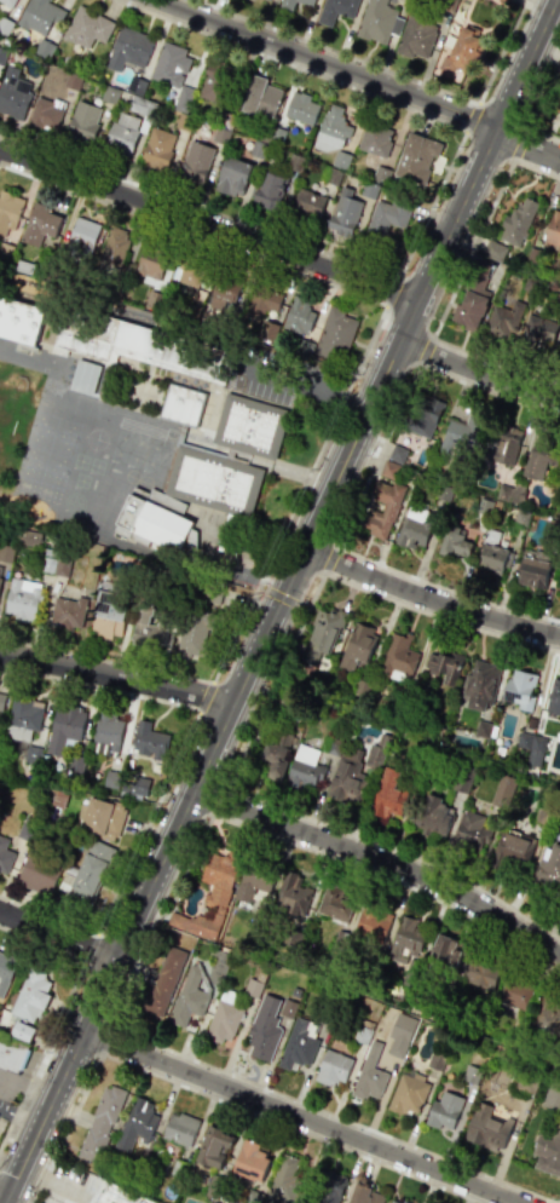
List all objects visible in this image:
building: (270, 0)
building: (506, 0)
building: (7, 2)
building: (285, 4)
building: (336, 10)
building: (40, 16)
building: (375, 21)
building: (86, 28)
building: (416, 36)
building: (128, 48)
building: (463, 51)
road: (500, 52)
road: (327, 62)
road: (290, 64)
building: (173, 73)
building: (220, 81)
building: (261, 92)
road: (542, 92)
building: (13, 93)
building: (555, 98)
building: (302, 107)
building: (46, 113)
road: (469, 116)
building: (85, 121)
building: (333, 128)
building: (123, 132)
building: (376, 138)
road: (542, 138)
road: (518, 145)
road: (525, 148)
building: (158, 149)
road: (485, 149)
building: (417, 157)
building: (197, 159)
road: (535, 171)
building: (381, 175)
building: (232, 177)
building: (270, 189)
building: (308, 202)
road: (432, 203)
road: (200, 207)
building: (10, 209)
building: (343, 213)
building: (386, 217)
building: (516, 220)
building: (41, 223)
road: (207, 225)
building: (553, 230)
building: (83, 232)
road: (191, 234)
building: (115, 243)
road: (470, 249)
building: (493, 249)
building: (150, 266)
building: (190, 274)
road: (391, 292)
building: (227, 294)
building: (473, 294)
building: (266, 303)
building: (300, 313)
building: (506, 318)
building: (19, 322)
building: (269, 329)
building: (538, 329)
building: (330, 332)
building: (134, 343)
road: (427, 345)
building: (559, 352)
road: (421, 357)
road: (493, 363)
road: (478, 373)
parking lot: (278, 374)
building: (83, 375)
road: (302, 382)
road: (487, 391)
building: (180, 404)
building: (421, 416)
park: (8, 419)
park: (15, 419)
building: (249, 425)
park: (51, 433)
building: (180, 433)
building: (460, 434)
road: (321, 445)
building: (502, 448)
building: (397, 453)
building: (541, 454)
road: (376, 455)
park: (42, 466)
building: (388, 470)
building: (212, 482)
building: (443, 491)
building: (502, 493)
building: (516, 493)
building: (388, 507)
building: (483, 507)
building: (156, 523)
building: (412, 528)
building: (28, 537)
building: (454, 542)
building: (492, 551)
road: (331, 552)
building: (6, 553)
building: (47, 565)
road: (325, 565)
building: (60, 568)
building: (532, 571)
building: (0, 580)
road: (445, 589)
road: (281, 597)
traffic signals: (281, 597)
road: (429, 598)
building: (23, 599)
building: (68, 611)
building: (106, 614)
road: (439, 617)
building: (148, 624)
road: (265, 629)
road: (235, 633)
building: (325, 633)
building: (195, 635)
building: (357, 644)
street lamp: (80, 650)
building: (397, 656)
road: (106, 658)
building: (445, 663)
road: (116, 678)
street lamp: (210, 680)
building: (480, 684)
road: (100, 687)
building: (519, 689)
road: (206, 697)
building: (553, 697)
building: (2, 698)
street lamp: (194, 713)
building: (23, 716)
building: (65, 725)
building: (483, 727)
building: (108, 733)
building: (149, 738)
building: (524, 741)
building: (331, 746)
building: (535, 750)
building: (376, 752)
building: (33, 754)
building: (277, 754)
building: (305, 767)
building: (345, 779)
building: (462, 779)
building: (125, 783)
building: (502, 789)
building: (388, 793)
road: (209, 798)
building: (57, 799)
road: (283, 808)
building: (428, 815)
building: (103, 817)
building: (538, 819)
road: (148, 824)
building: (470, 830)
building: (508, 848)
building: (5, 854)
road: (381, 859)
building: (91, 869)
building: (549, 870)
building: (40, 871)
road: (388, 879)
building: (250, 882)
building: (289, 894)
building: (207, 902)
building: (334, 905)
road: (47, 917)
road: (158, 917)
building: (370, 923)
road: (56, 934)
building: (294, 938)
building: (406, 938)
road: (90, 946)
building: (443, 955)
building: (219, 965)
building: (5, 971)
building: (481, 973)
building: (162, 983)
building: (252, 988)
building: (515, 991)
building: (30, 997)
building: (187, 998)
building: (549, 1015)
building: (223, 1017)
building: (264, 1028)
building: (363, 1030)
building: (22, 1031)
building: (399, 1034)
road: (104, 1038)
building: (298, 1046)
road: (42, 1052)
building: (438, 1053)
building: (11, 1055)
road: (200, 1063)
building: (331, 1067)
building: (472, 1070)
building: (368, 1080)
road: (58, 1081)
road: (12, 1086)
building: (406, 1094)
road: (214, 1098)
parking lot: (5, 1110)
building: (444, 1110)
road: (300, 1116)
road: (18, 1118)
building: (100, 1122)
building: (137, 1123)
building: (179, 1128)
building: (486, 1128)
building: (214, 1146)
building: (548, 1149)
road: (426, 1152)
building: (253, 1158)
building: (282, 1179)
building: (323, 1185)
road: (2, 1195)
building: (120, 1195)
building: (363, 1195)
building: (157, 1202)
building: (392, 1202)
building: (404, 1202)

